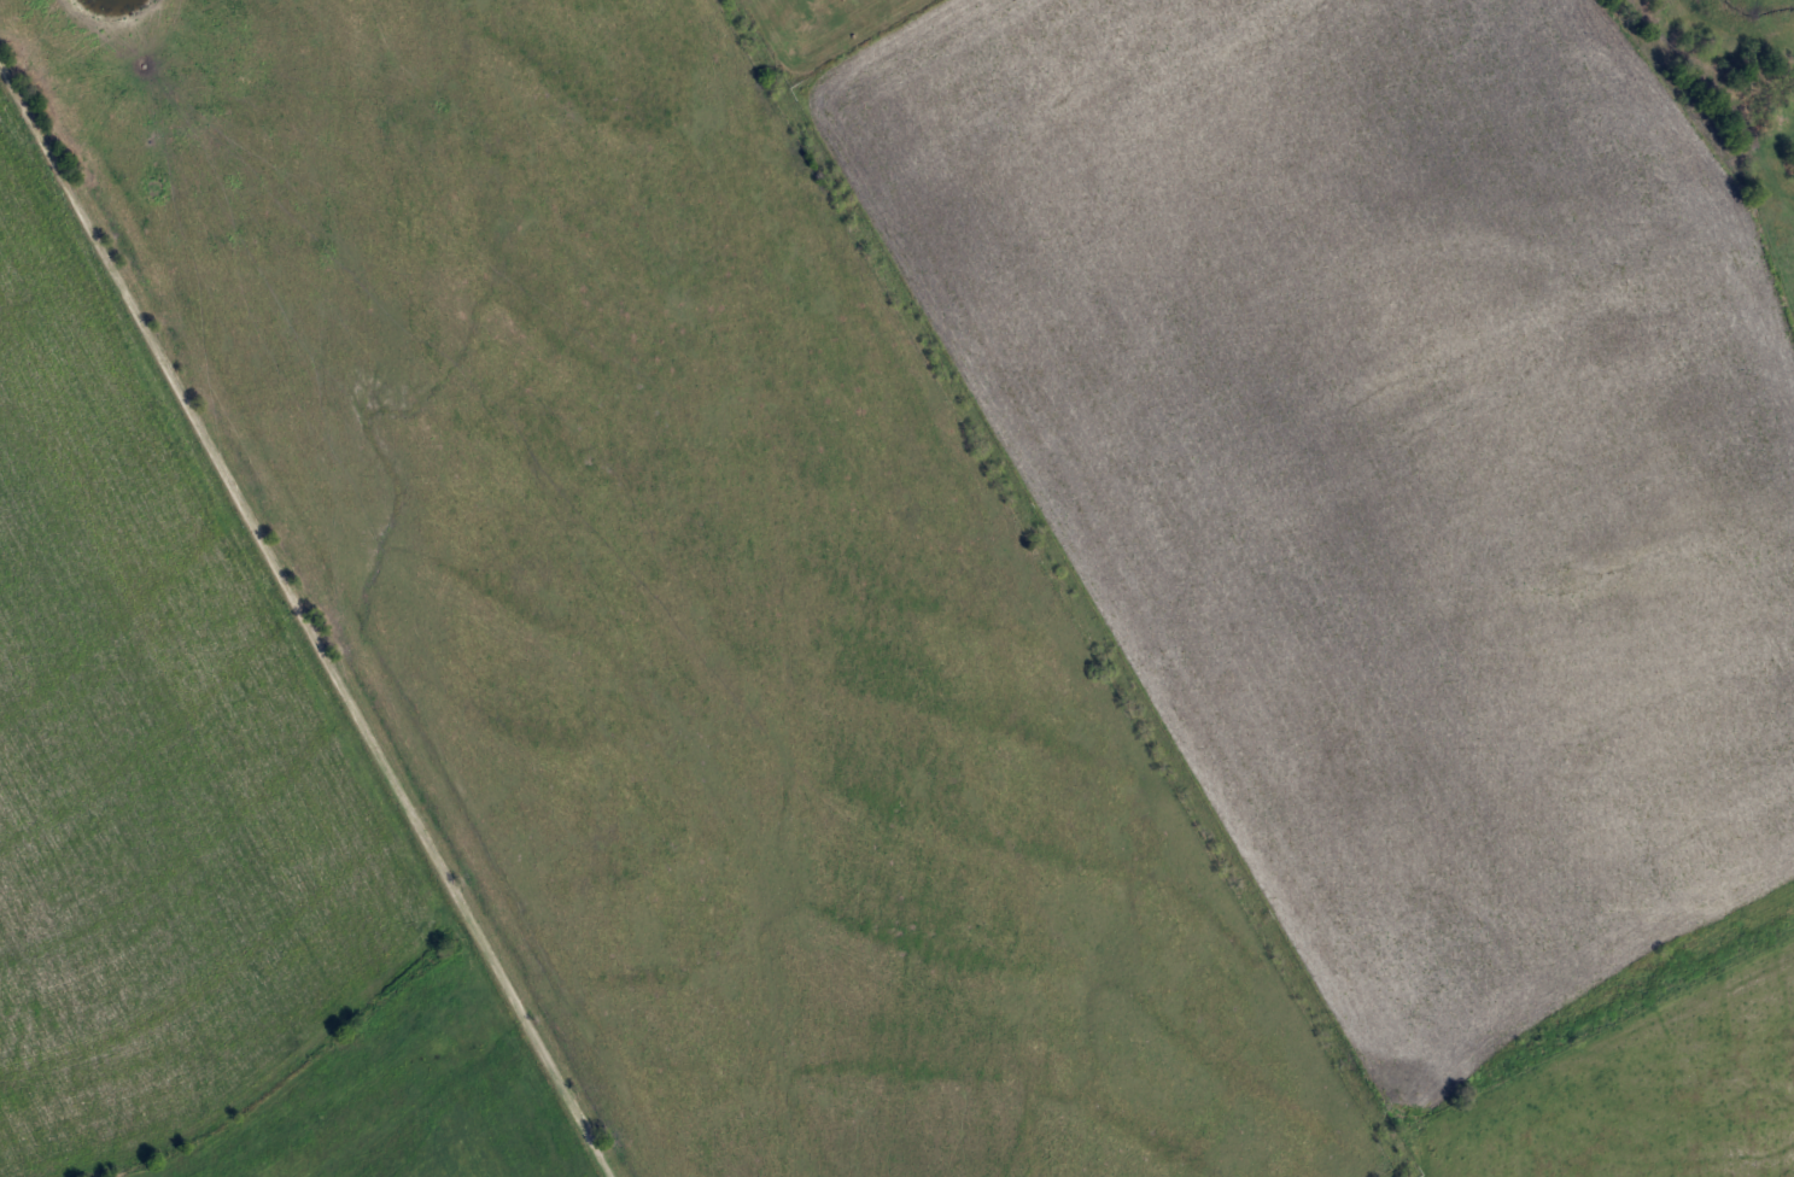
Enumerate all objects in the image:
road: (306, 620)

